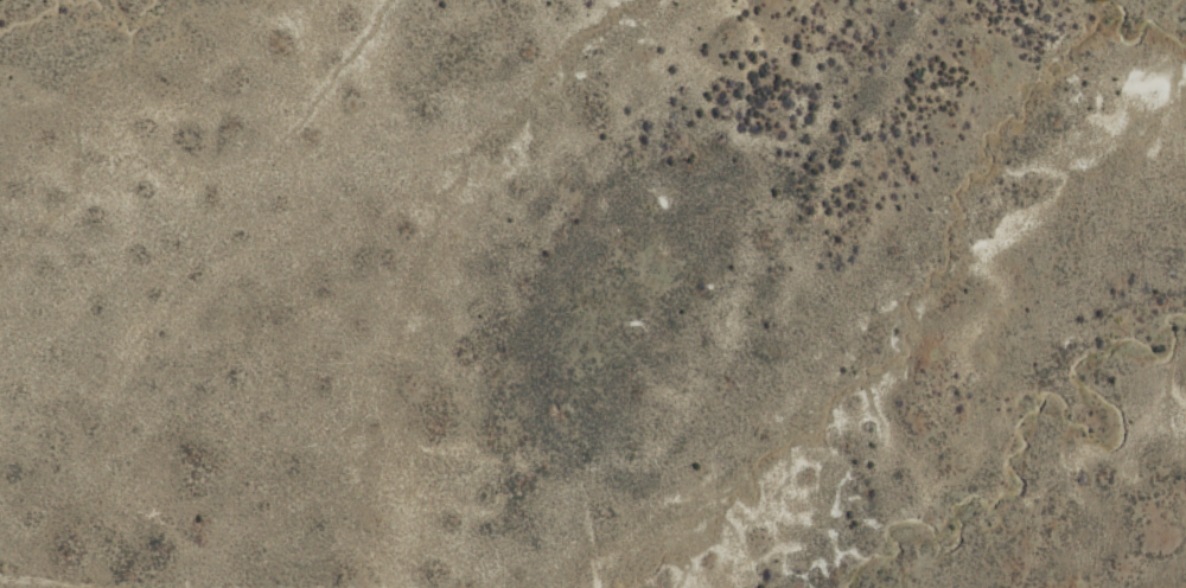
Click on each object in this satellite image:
crop: (511, 289)

